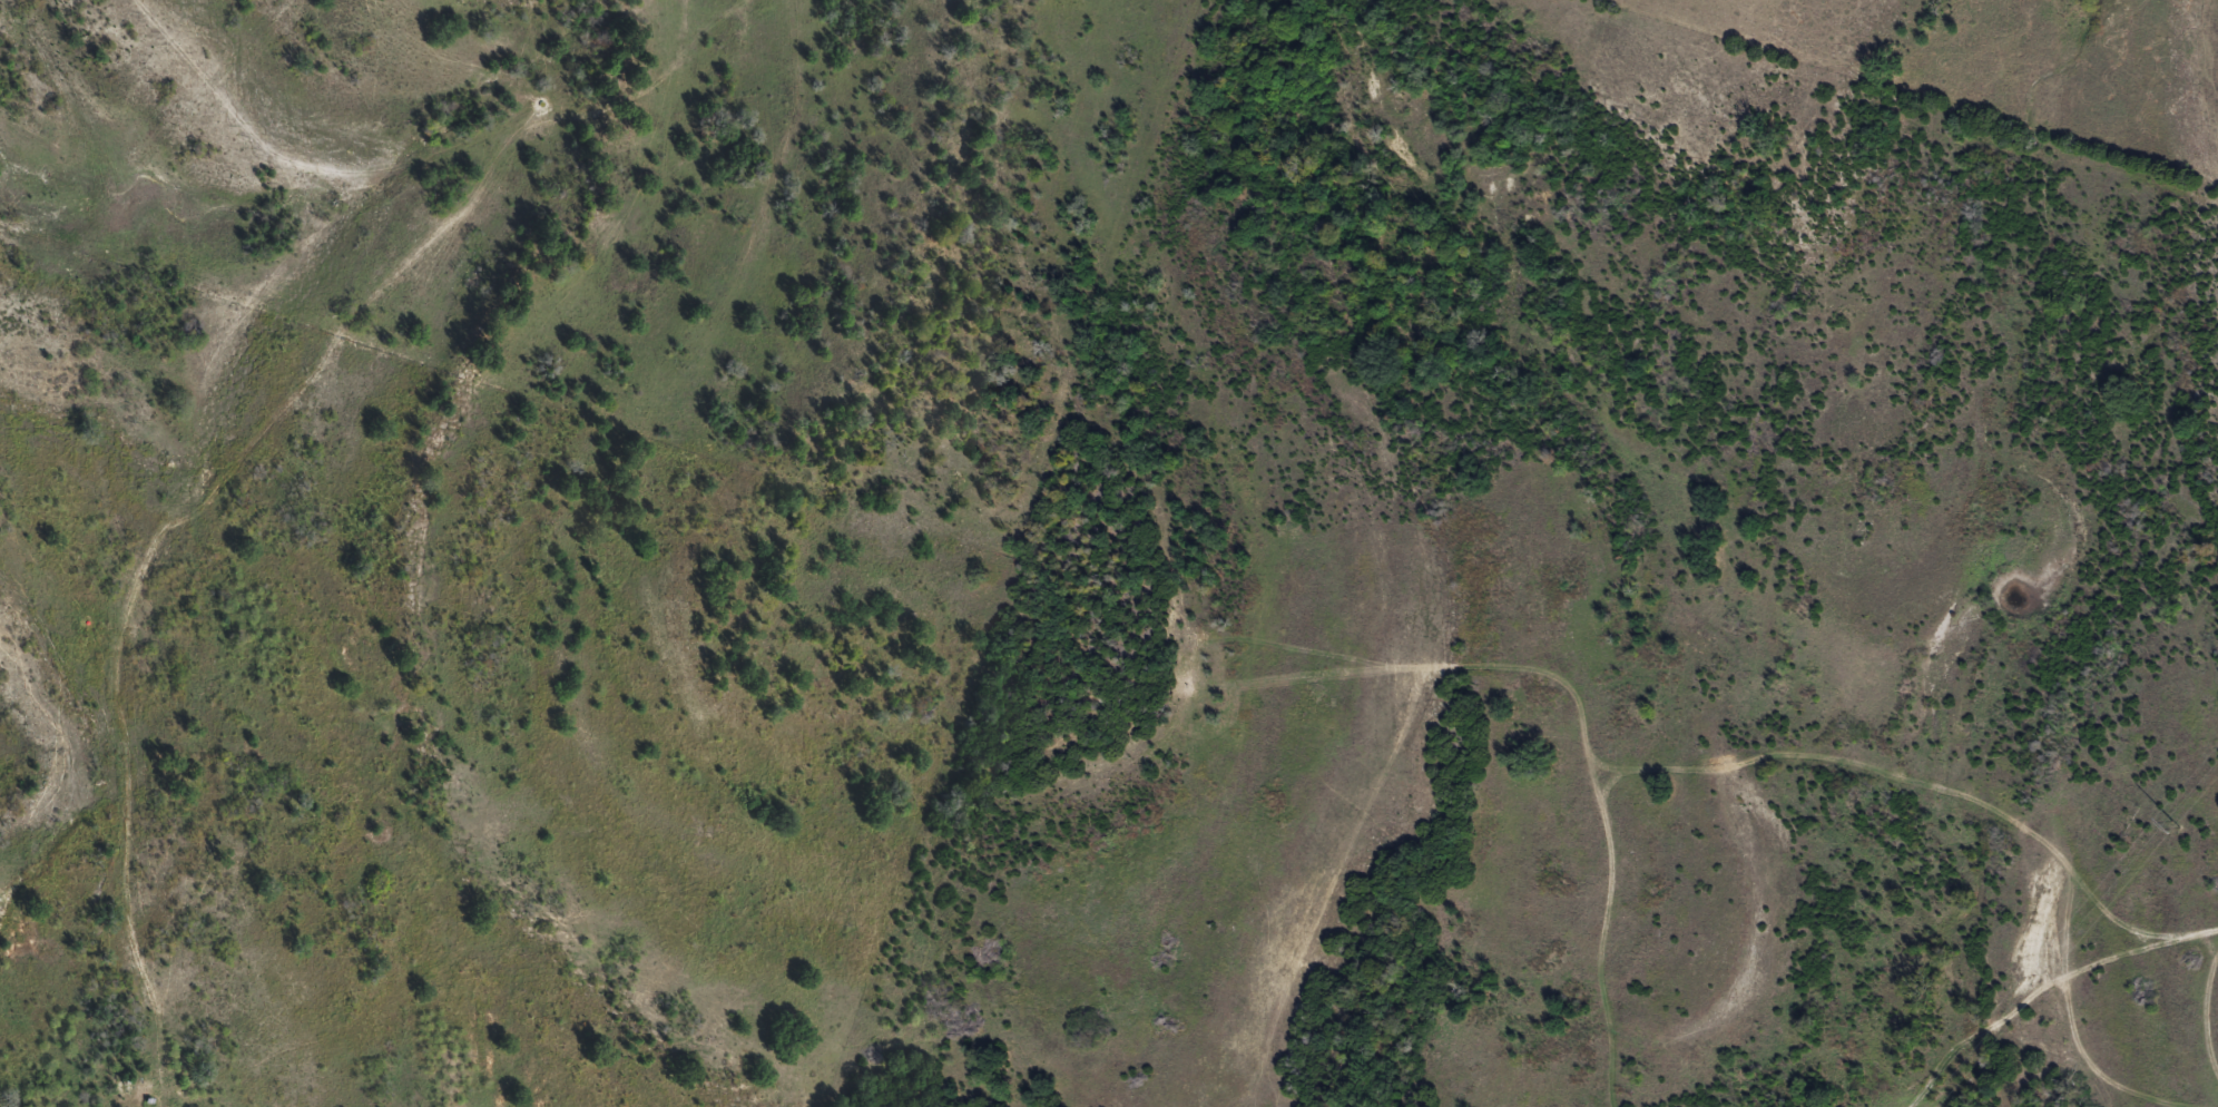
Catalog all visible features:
power tower: (2176, 824)

